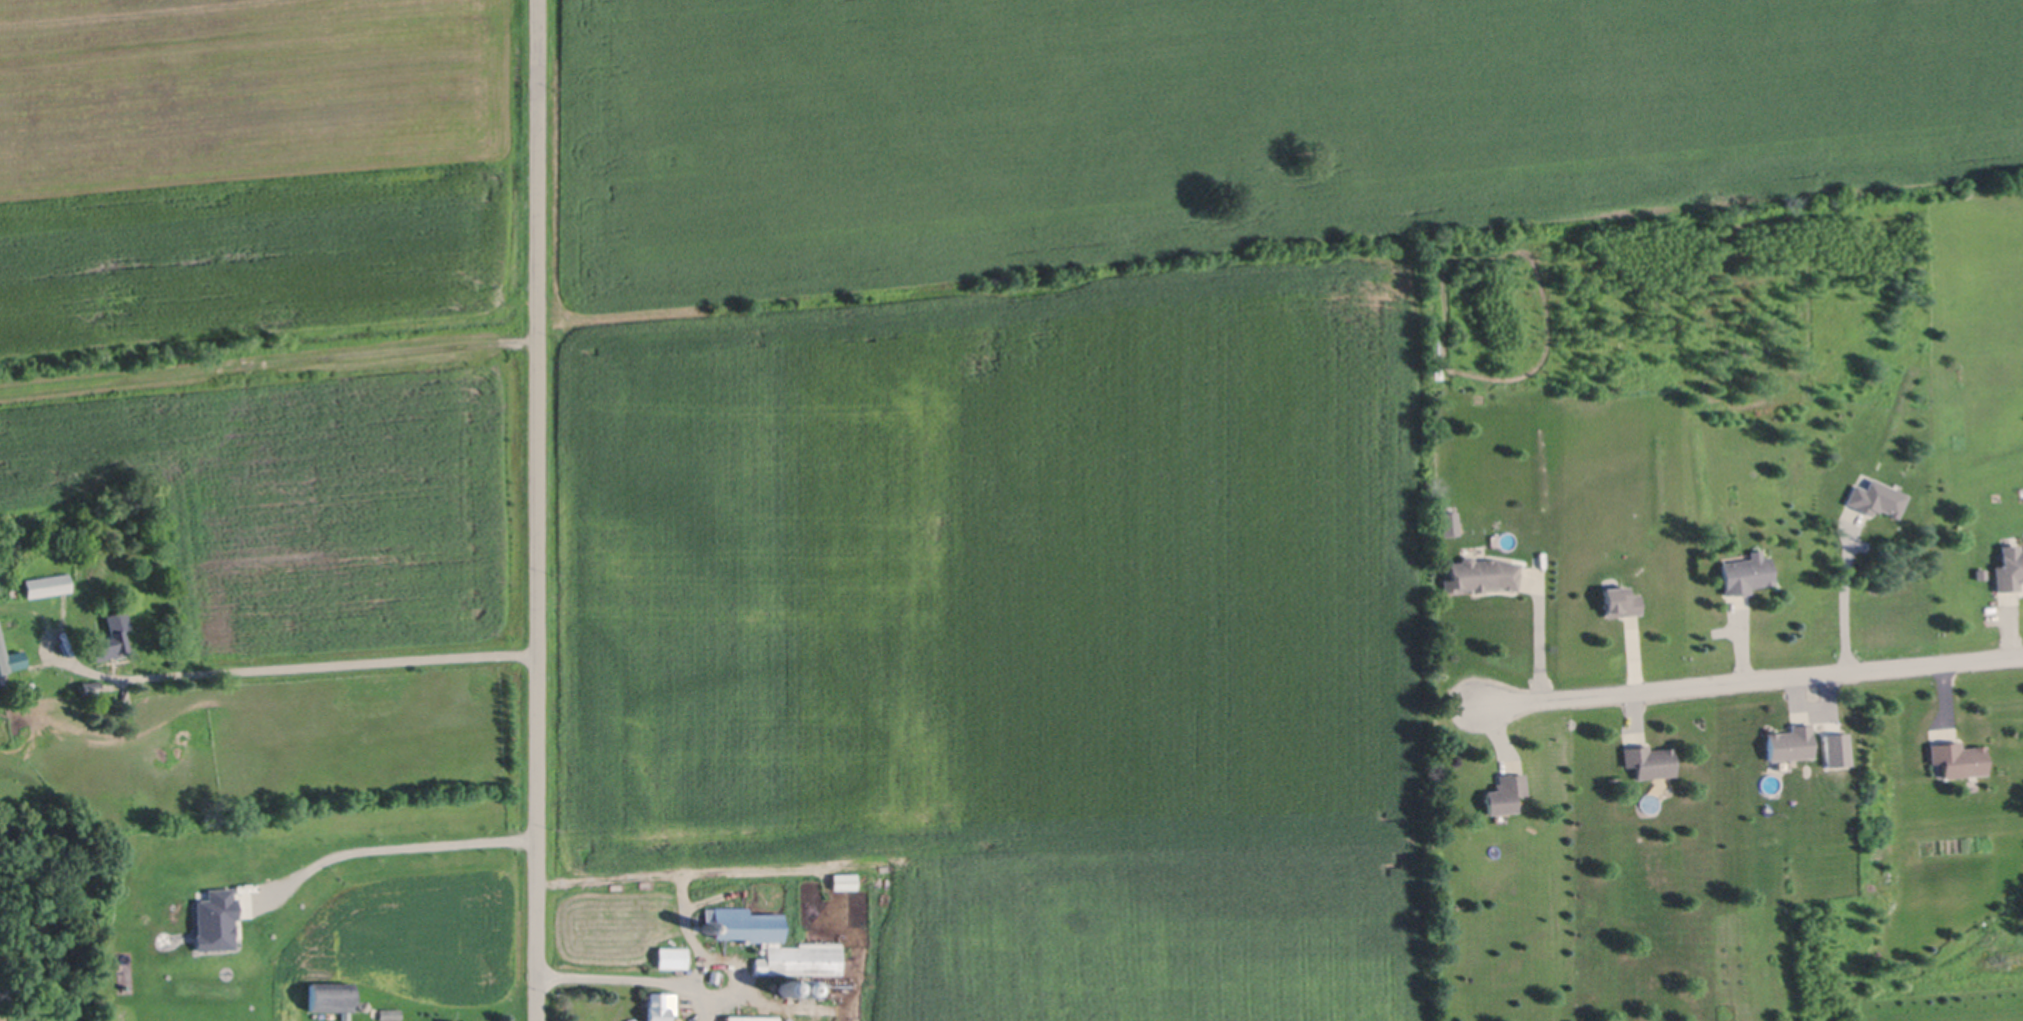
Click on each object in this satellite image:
crop: (1092, 439)
building: (1877, 499)
road: (535, 510)
building: (2009, 568)
building: (1745, 573)
building: (1482, 575)
building: (46, 584)
road: (1855, 599)
building: (1619, 602)
building: (111, 636)
road: (1538, 640)
building: (11, 658)
road: (293, 666)
road: (1750, 679)
building: (89, 687)
building: (1789, 743)
building: (1833, 749)
building: (1957, 758)
building: (1649, 761)
building: (1505, 794)
road: (388, 842)
building: (845, 880)
building: (774, 941)
building: (672, 957)
building: (907, 968)
road: (654, 975)
building: (714, 975)
building: (786, 988)
building: (805, 988)
building: (332, 996)
building: (360, 1004)
building: (660, 1005)
building: (391, 1013)
building: (750, 1017)
building: (452, 1020)

